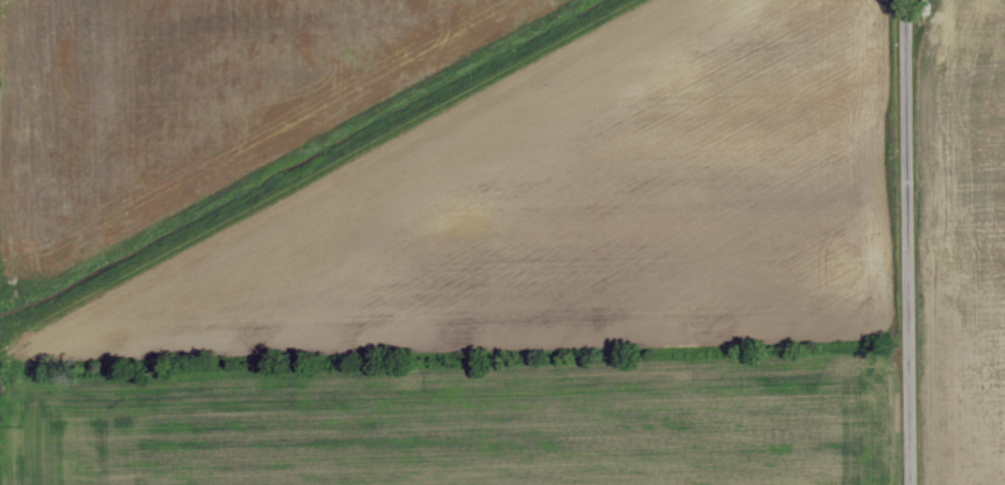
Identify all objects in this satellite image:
road: (907, 242)

